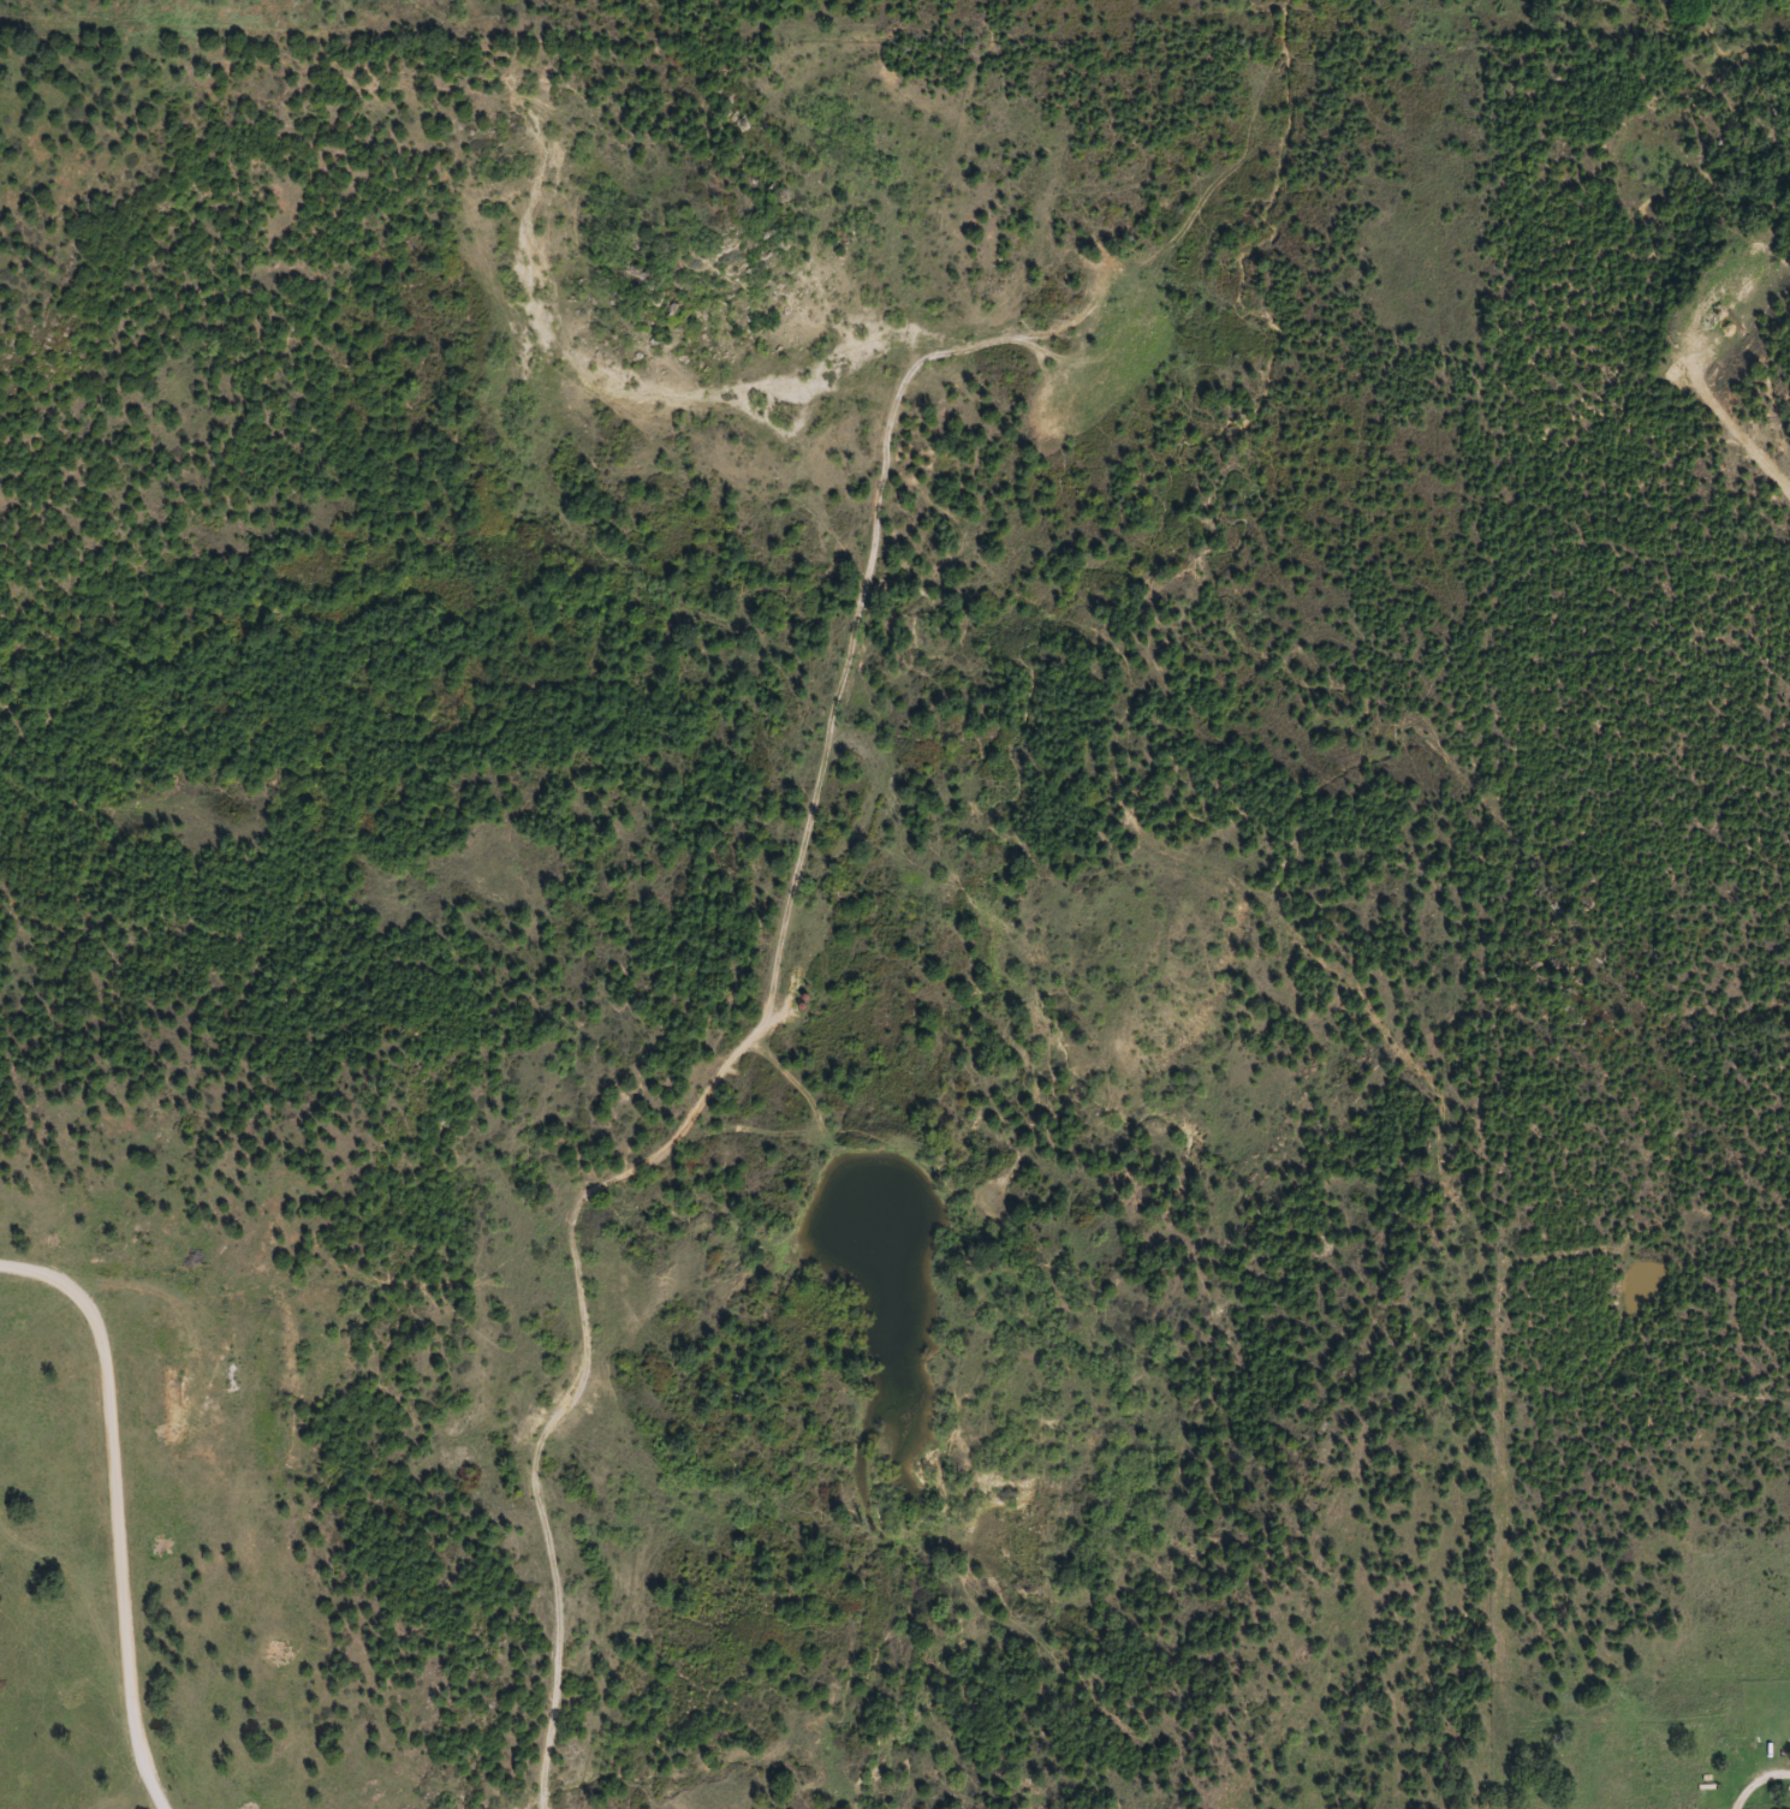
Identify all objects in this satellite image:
road: (245, 279)

